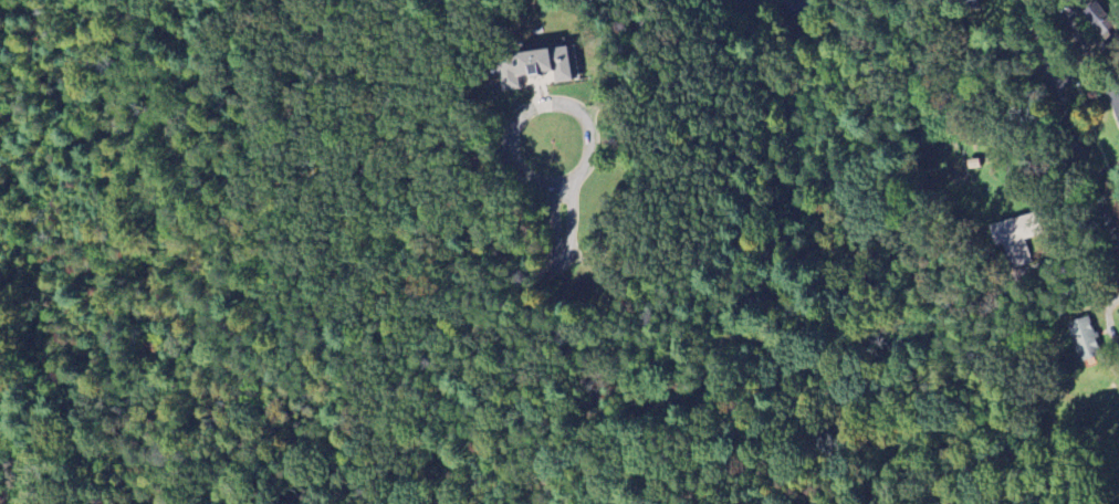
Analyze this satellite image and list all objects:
building: (974, 4)
building: (1100, 18)
building: (536, 66)
building: (1115, 102)
road: (1069, 128)
building: (1086, 338)

